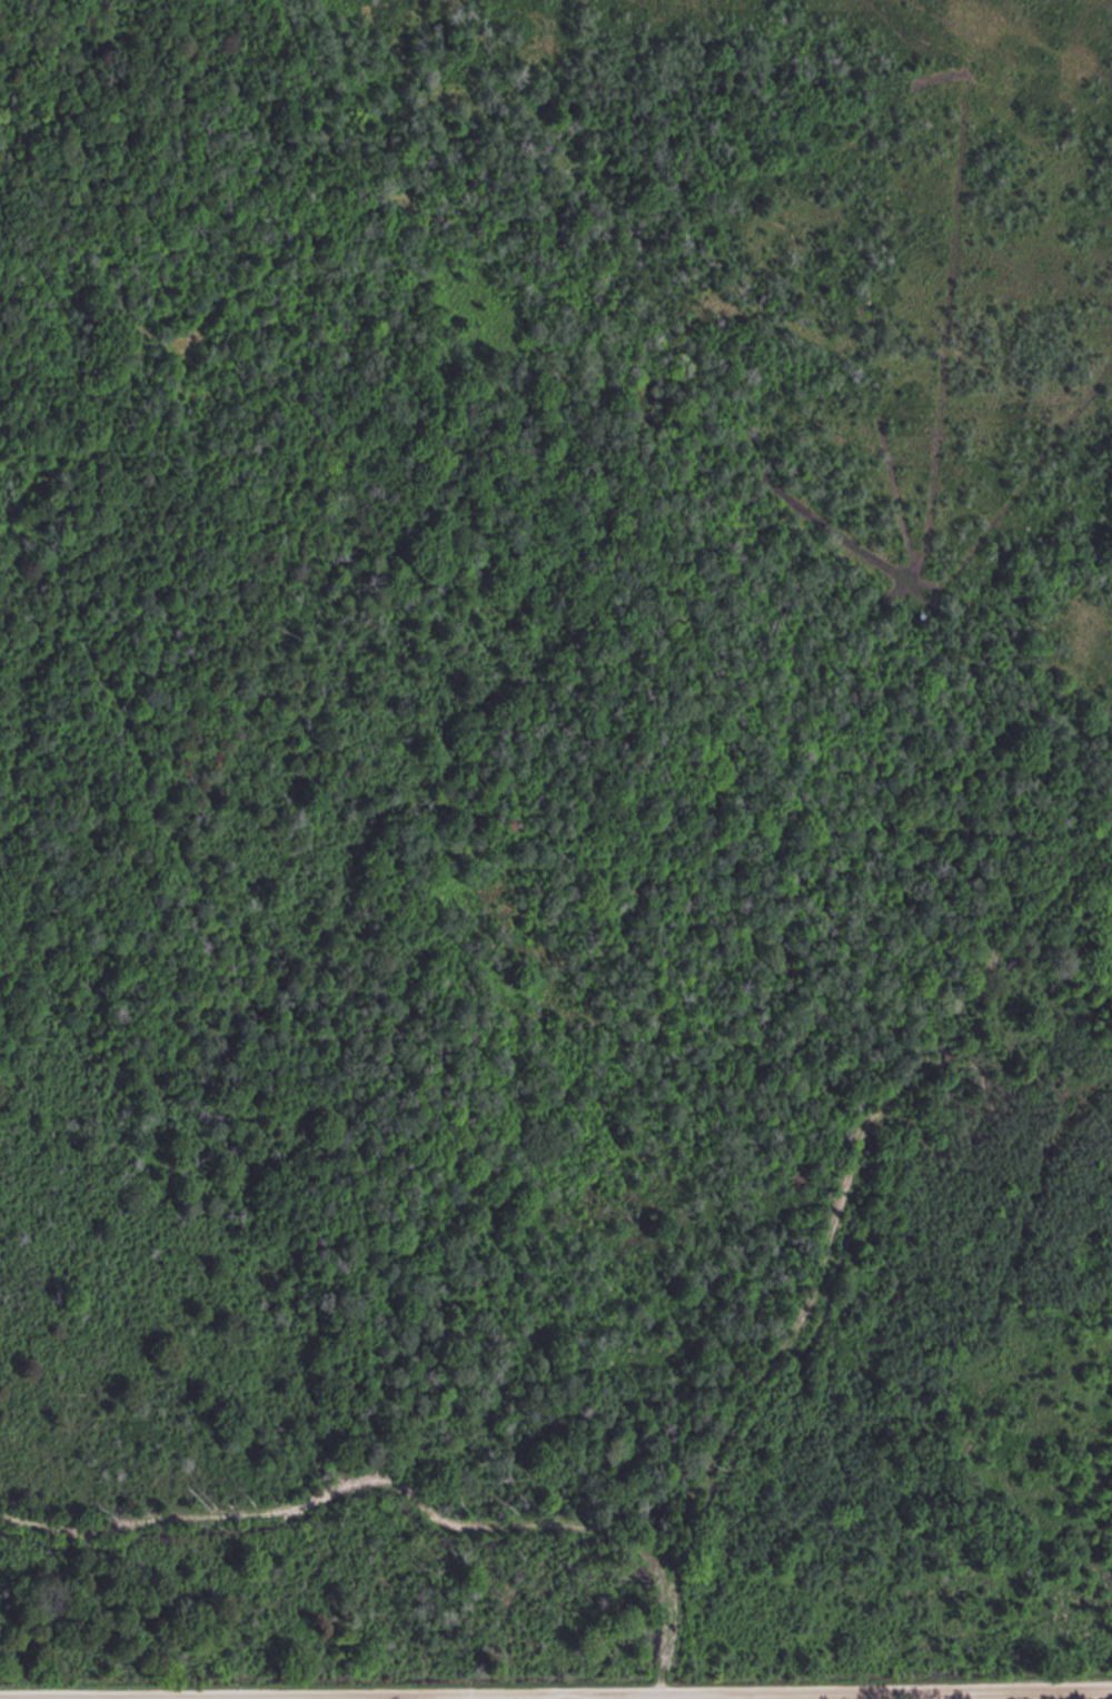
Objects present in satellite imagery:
road: (847, 1232)
road: (556, 1696)

